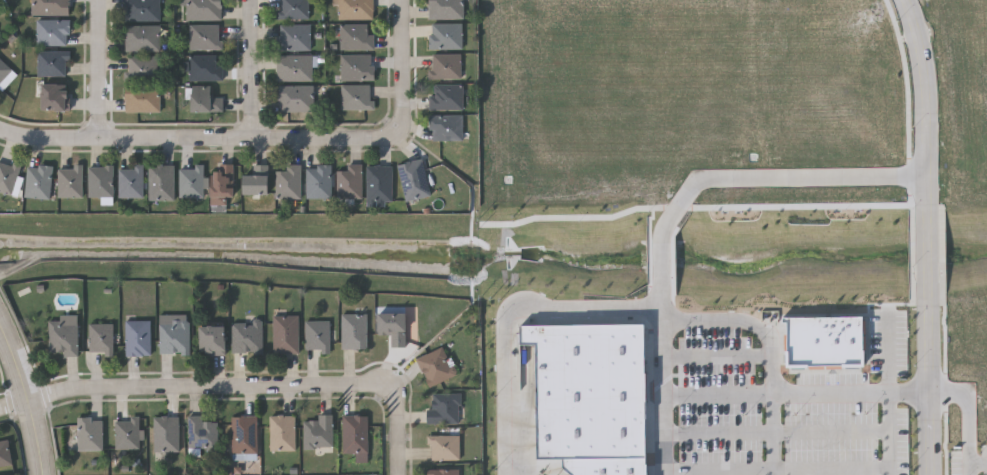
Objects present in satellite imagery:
building: (49, 8)
building: (292, 9)
building: (444, 9)
building: (141, 10)
building: (203, 10)
building: (354, 10)
road: (971, 31)
road: (955, 32)
building: (52, 33)
building: (355, 36)
building: (445, 36)
building: (204, 37)
building: (142, 38)
building: (293, 38)
building: (50, 63)
building: (445, 66)
building: (356, 67)
road: (956, 67)
building: (140, 68)
building: (205, 68)
building: (294, 68)
road: (404, 69)
road: (250, 70)
road: (100, 71)
building: (1, 72)
building: (54, 97)
building: (356, 97)
building: (445, 97)
building: (142, 99)
building: (294, 99)
building: (204, 100)
road: (927, 100)
building: (445, 127)
road: (201, 141)
building: (8, 176)
road: (778, 176)
building: (413, 180)
building: (99, 181)
building: (257, 181)
road: (958, 181)
building: (37, 182)
building: (69, 182)
building: (129, 182)
building: (190, 182)
building: (287, 182)
building: (318, 182)
building: (349, 182)
building: (160, 183)
building: (379, 184)
building: (221, 187)
road: (930, 253)
road: (654, 257)
road: (508, 312)
road: (738, 321)
building: (393, 326)
building: (353, 330)
building: (173, 333)
building: (285, 333)
building: (62, 334)
building: (316, 335)
building: (246, 336)
building: (100, 337)
building: (137, 337)
building: (212, 339)
building: (826, 342)
road: (891, 353)
road: (662, 355)
road: (718, 357)
building: (433, 367)
road: (210, 386)
building: (591, 389)
road: (931, 389)
road: (757, 393)
road: (31, 395)
road: (17, 407)
building: (442, 408)
road: (892, 410)
road: (969, 419)
road: (401, 430)
road: (800, 431)
building: (165, 432)
building: (200, 432)
building: (281, 432)
building: (317, 432)
building: (88, 433)
building: (127, 433)
building: (243, 434)
road: (773, 434)
building: (355, 436)
building: (442, 447)
building: (4, 454)
road: (978, 463)
building: (617, 468)
road: (779, 468)
building: (442, 471)

